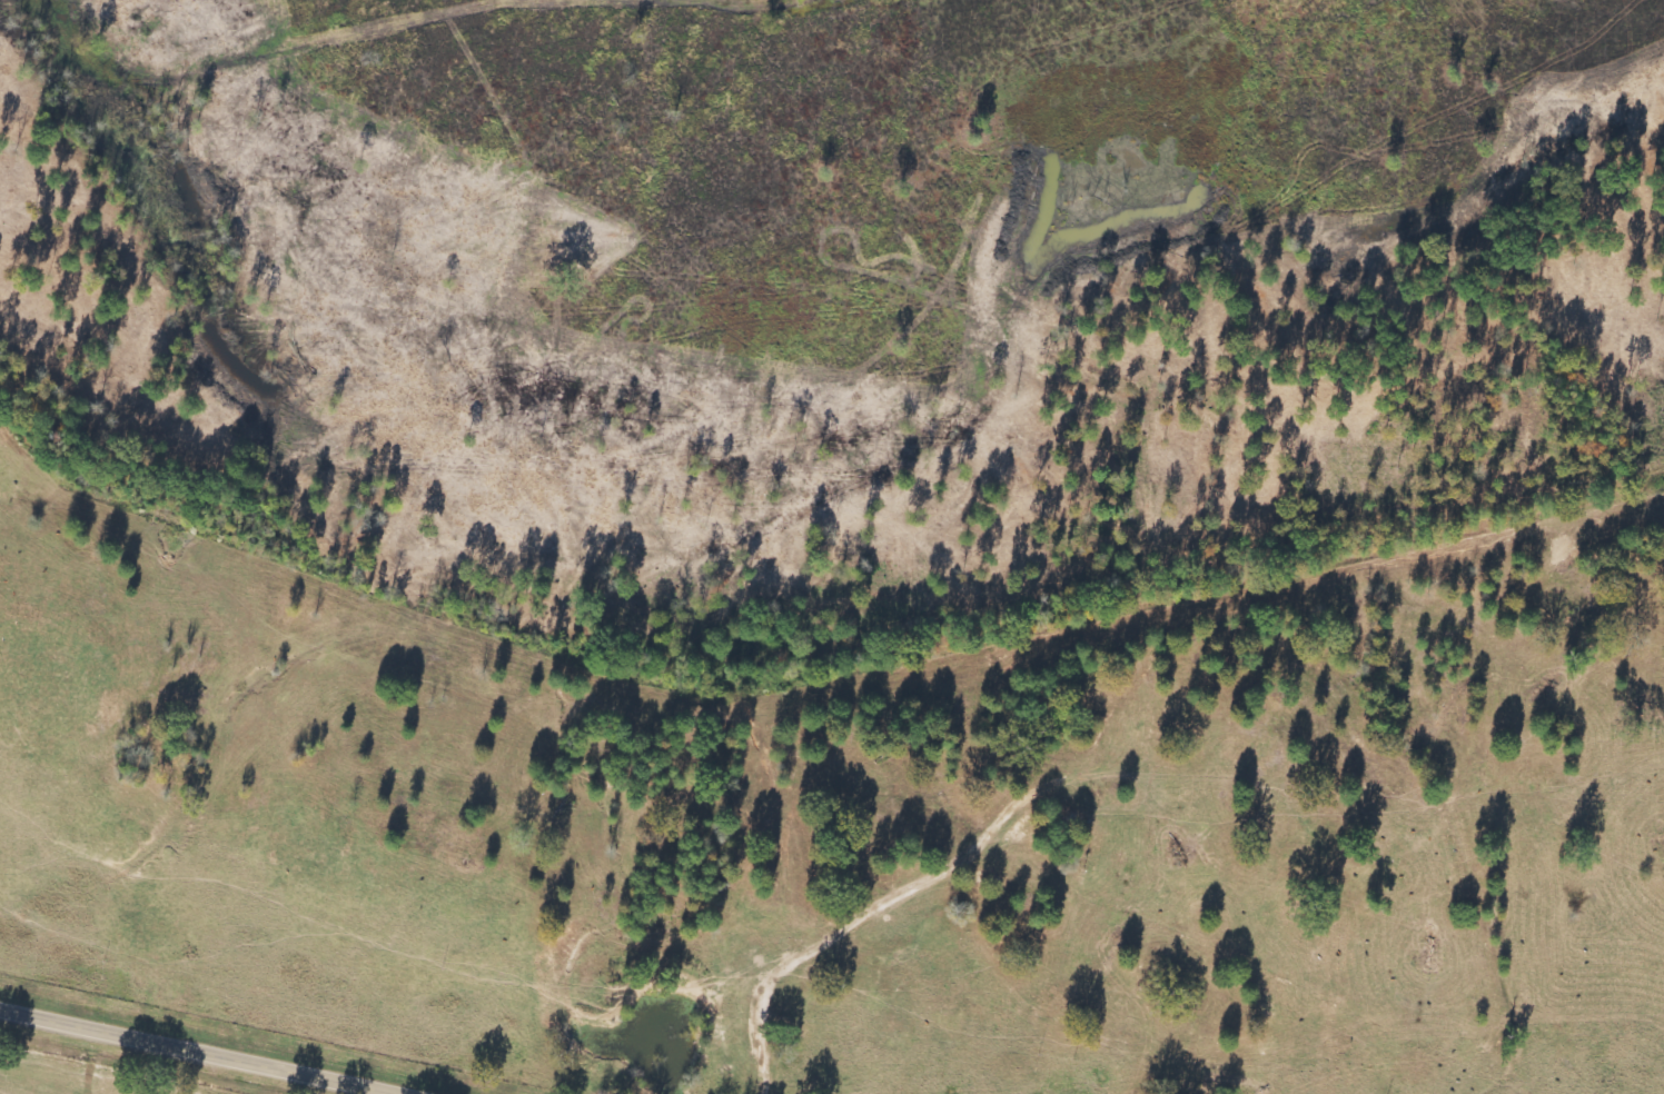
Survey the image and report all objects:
road: (192, 1052)

